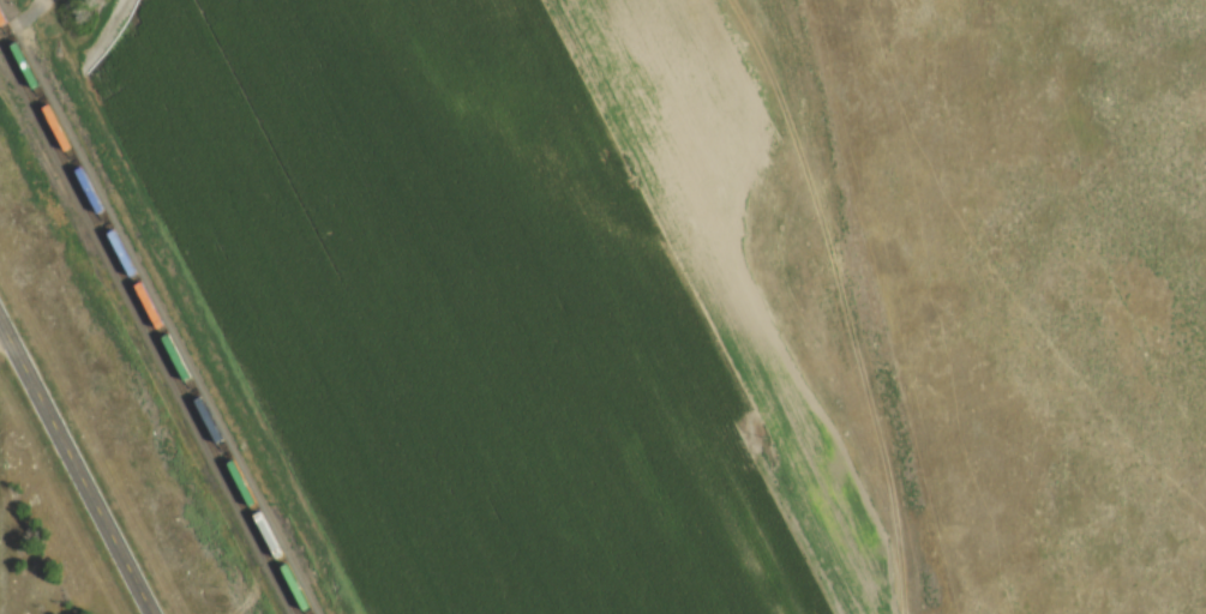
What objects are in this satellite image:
road: (23, 19)
crop: (510, 296)
railway: (156, 313)
railway: (149, 324)
building: (308, 458)
road: (77, 466)
building: (365, 564)

